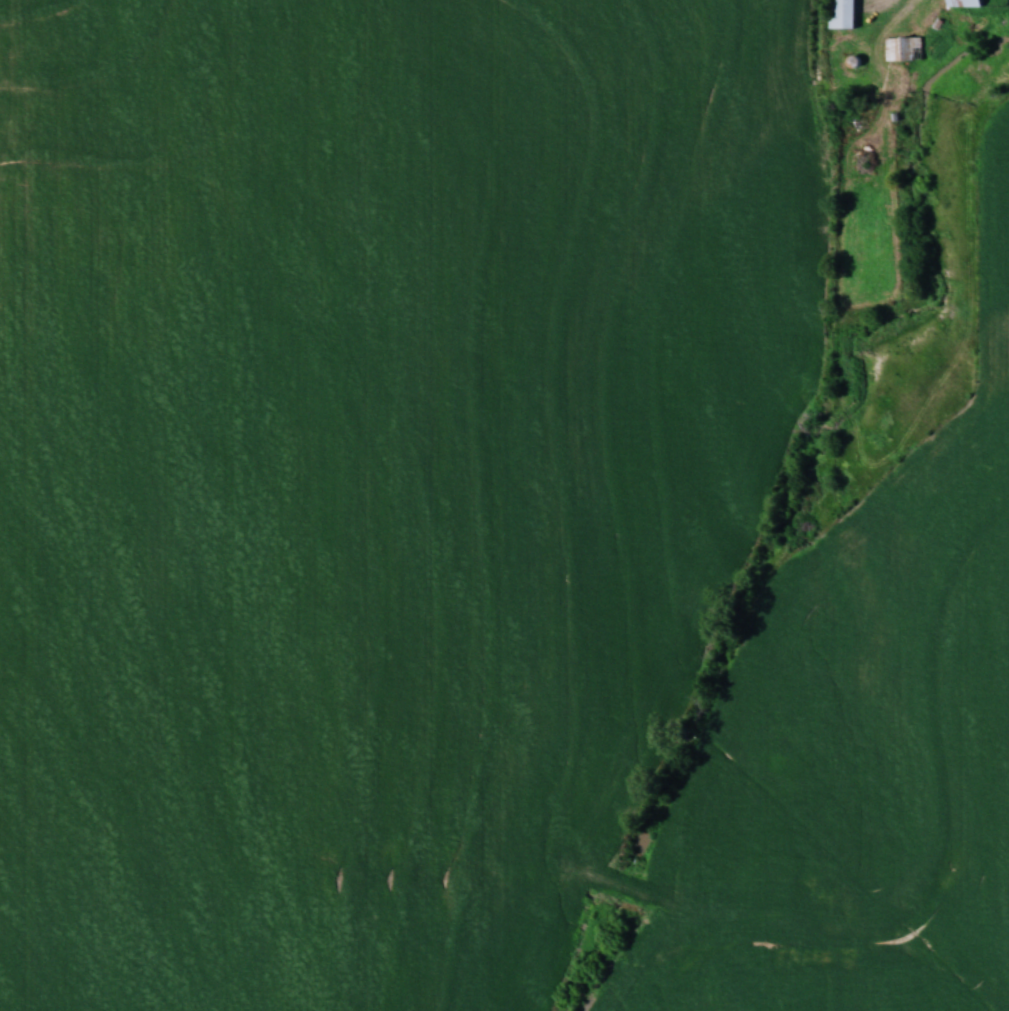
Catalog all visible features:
building: (964, 3)
building: (843, 13)
building: (904, 49)

